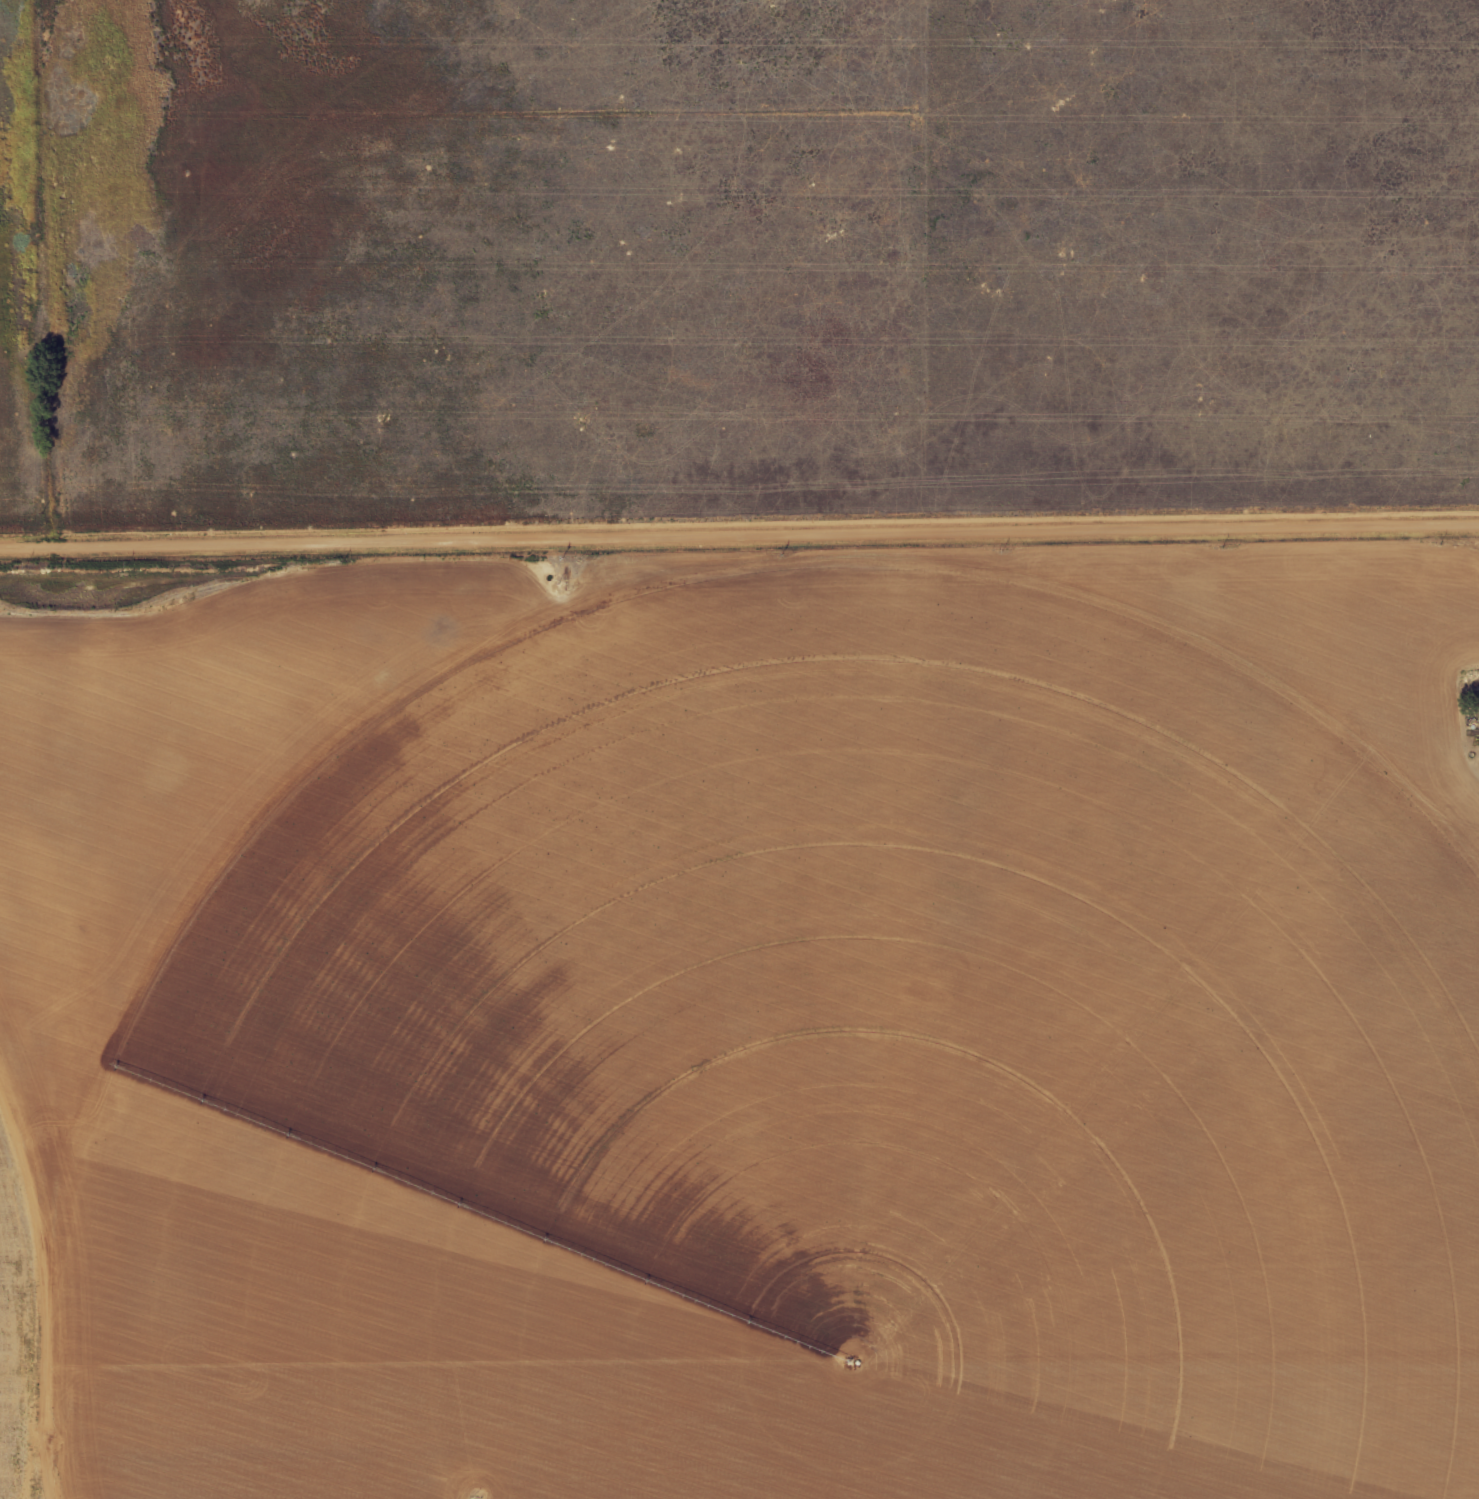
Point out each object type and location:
road: (739, 539)

